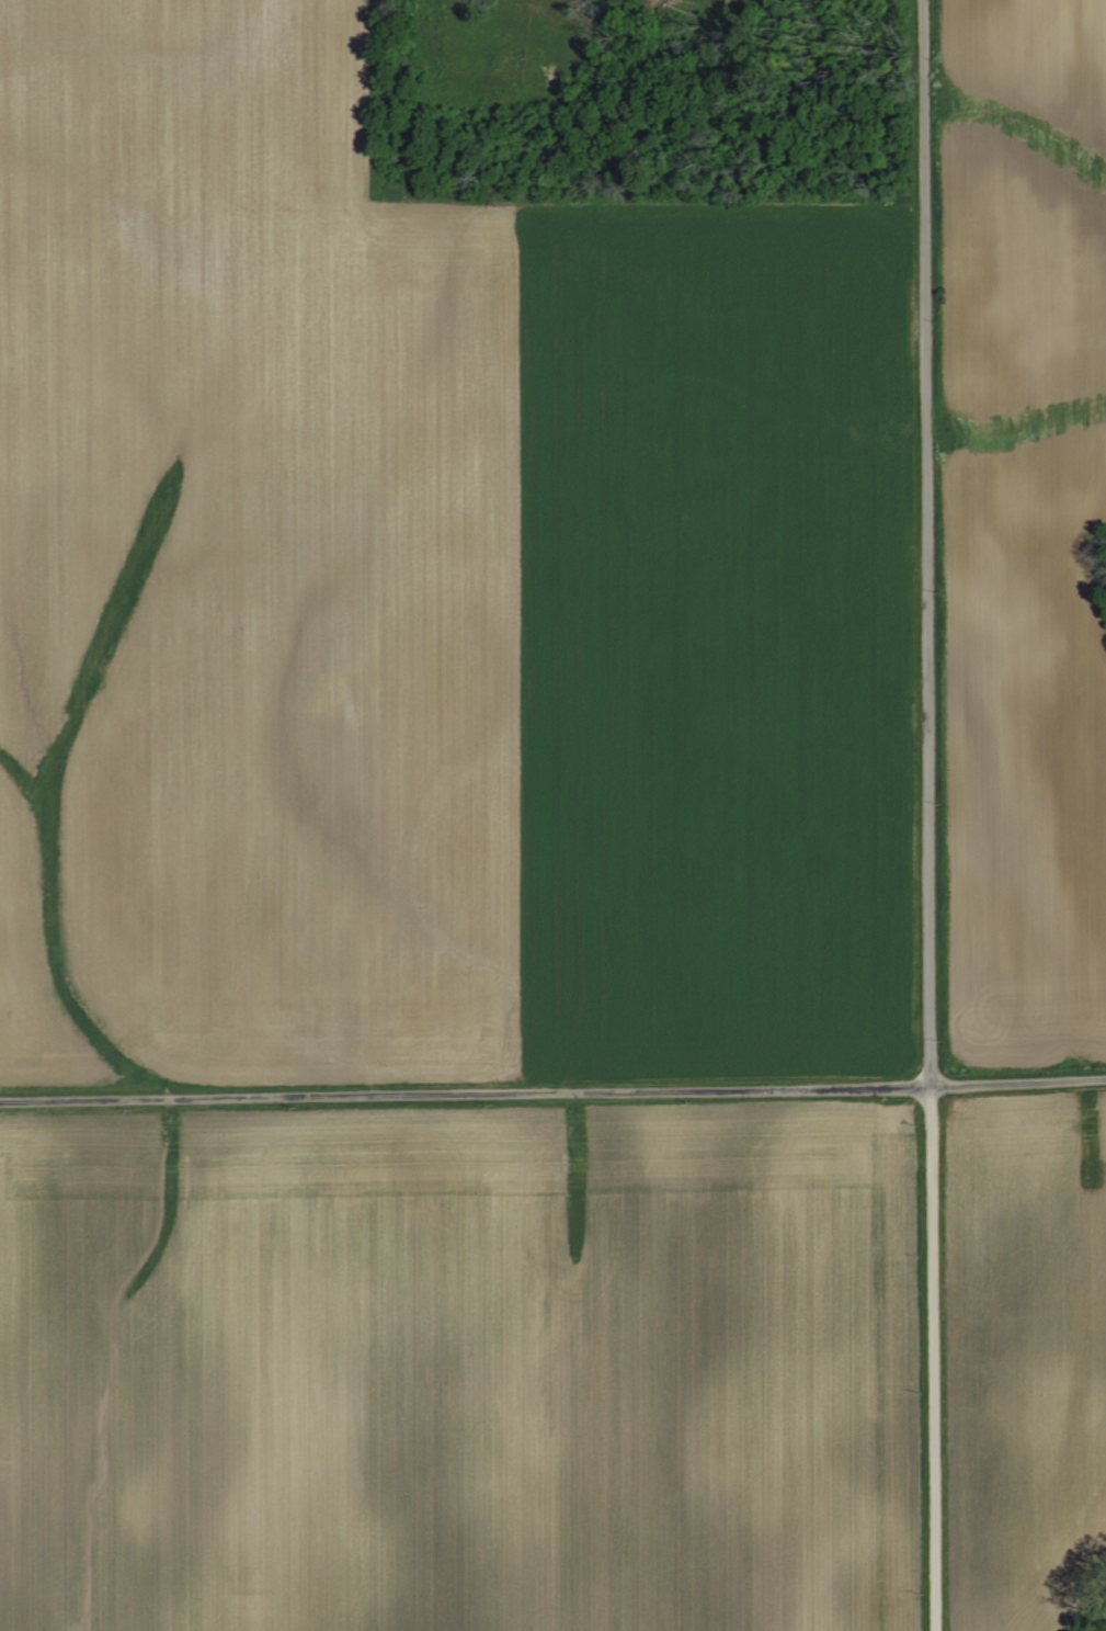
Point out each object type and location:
road: (920, 543)
road: (552, 1090)
road: (924, 1358)

